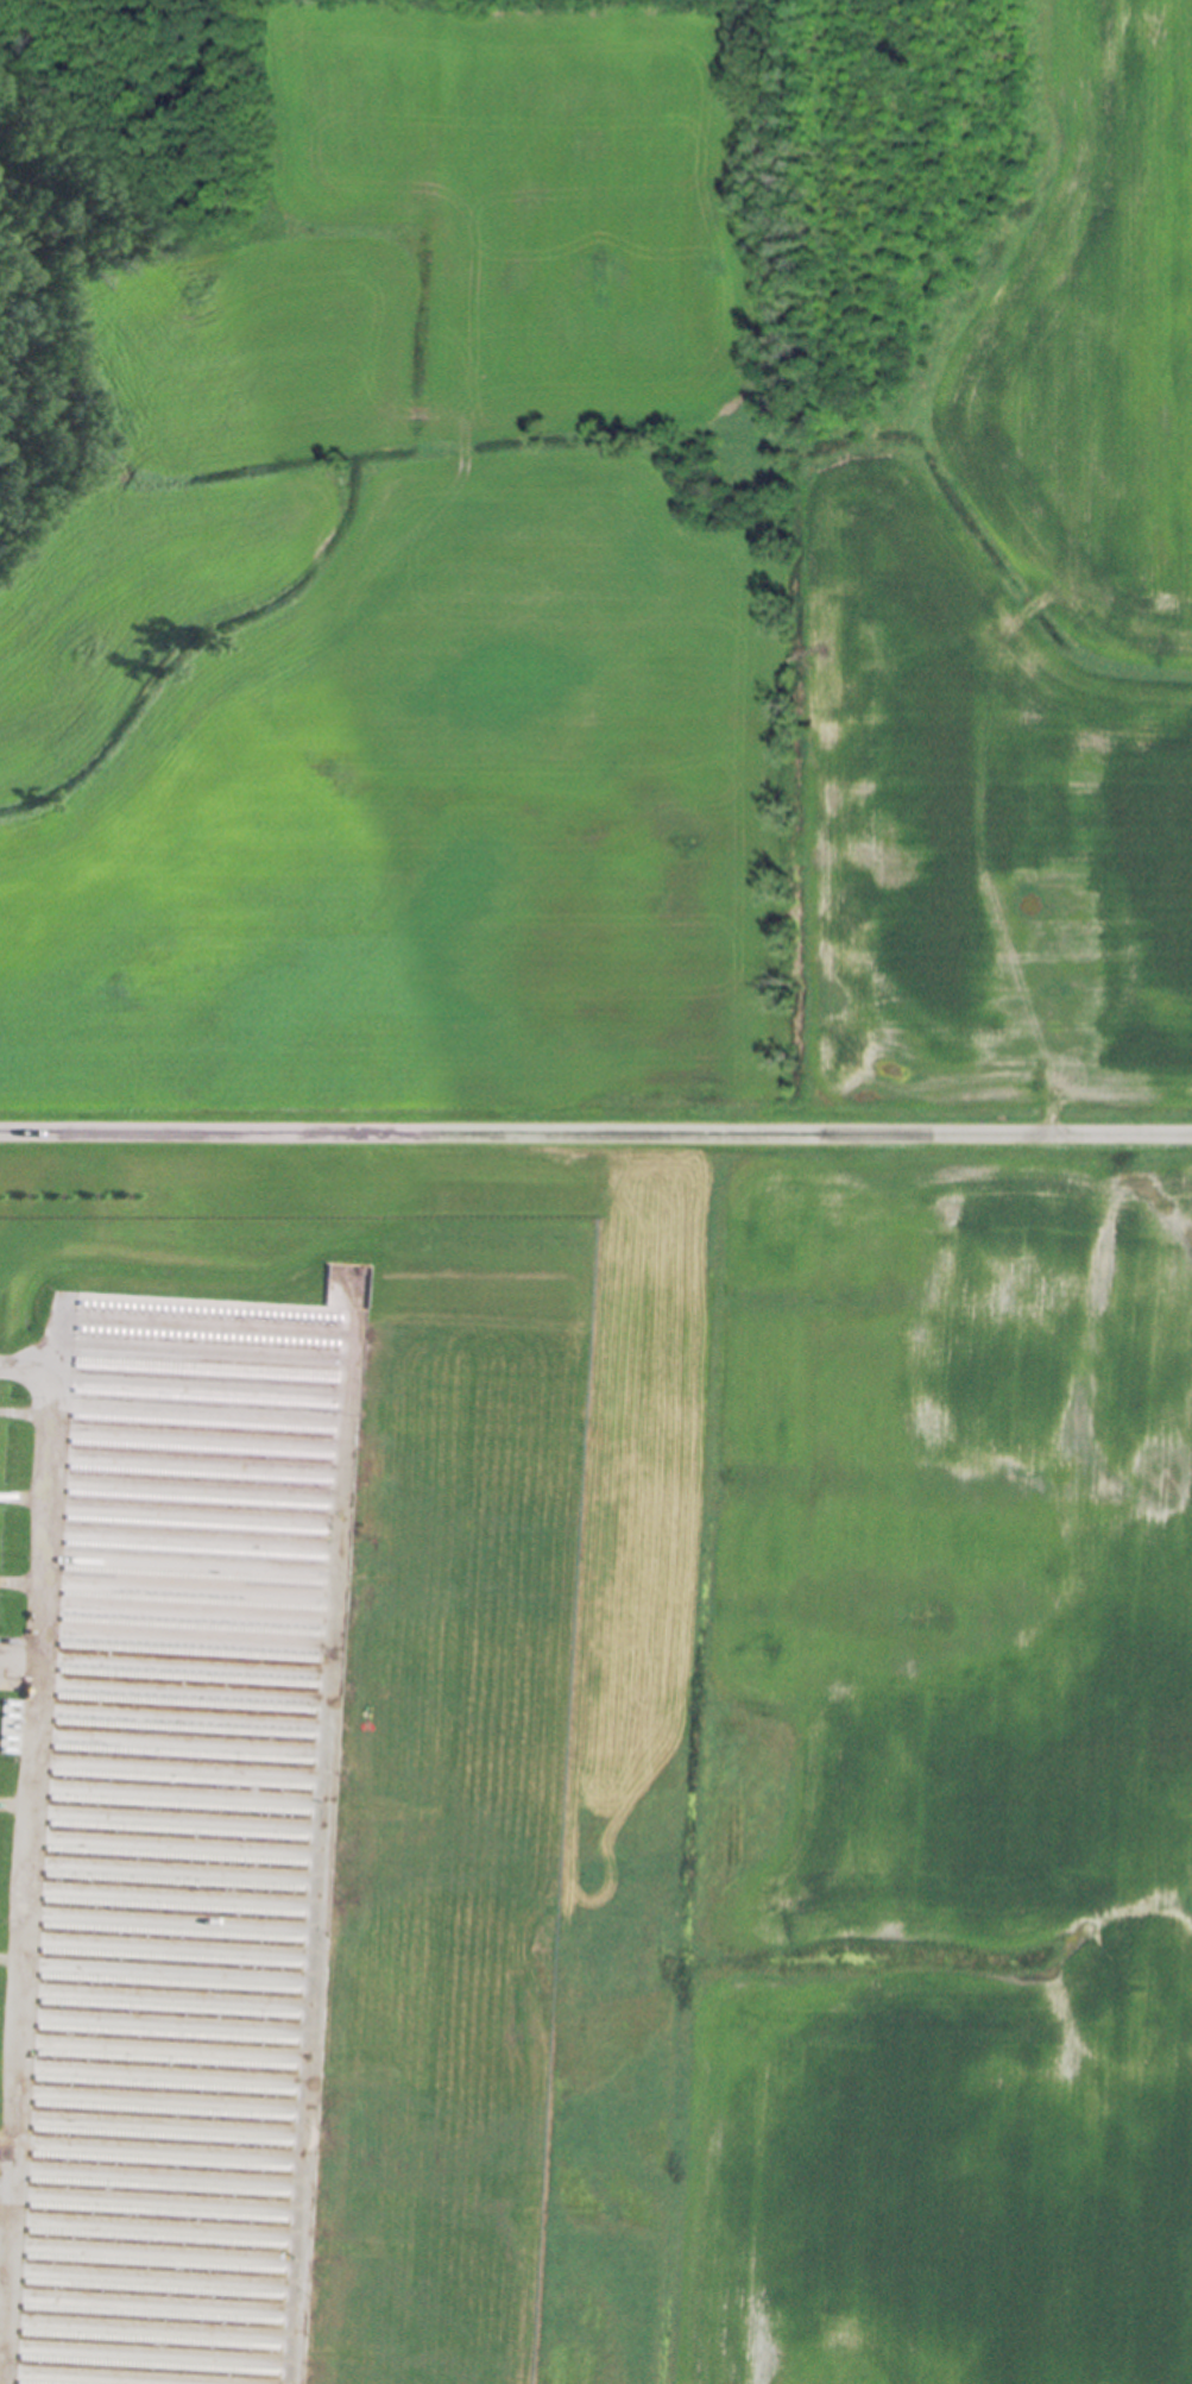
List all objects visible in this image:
road: (595, 1137)
road: (23, 1799)
road: (2, 2146)

